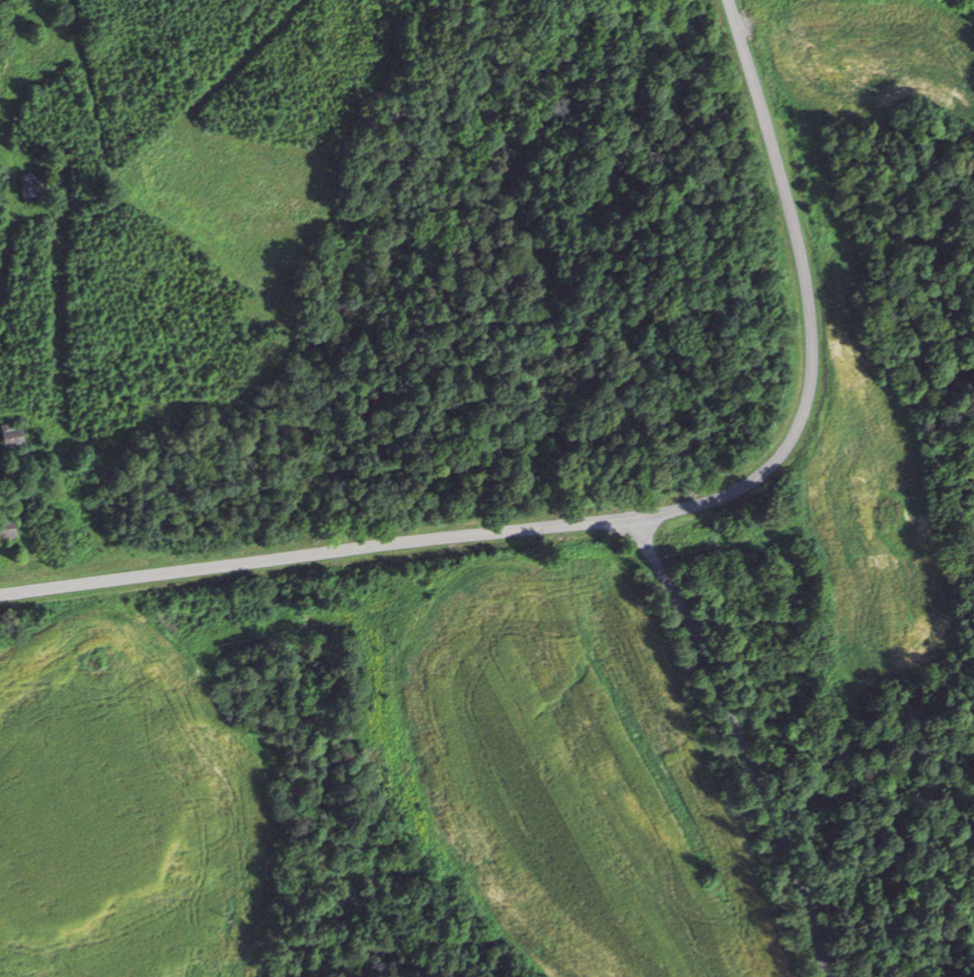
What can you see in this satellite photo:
road: (808, 311)
road: (313, 555)
road: (740, 743)

